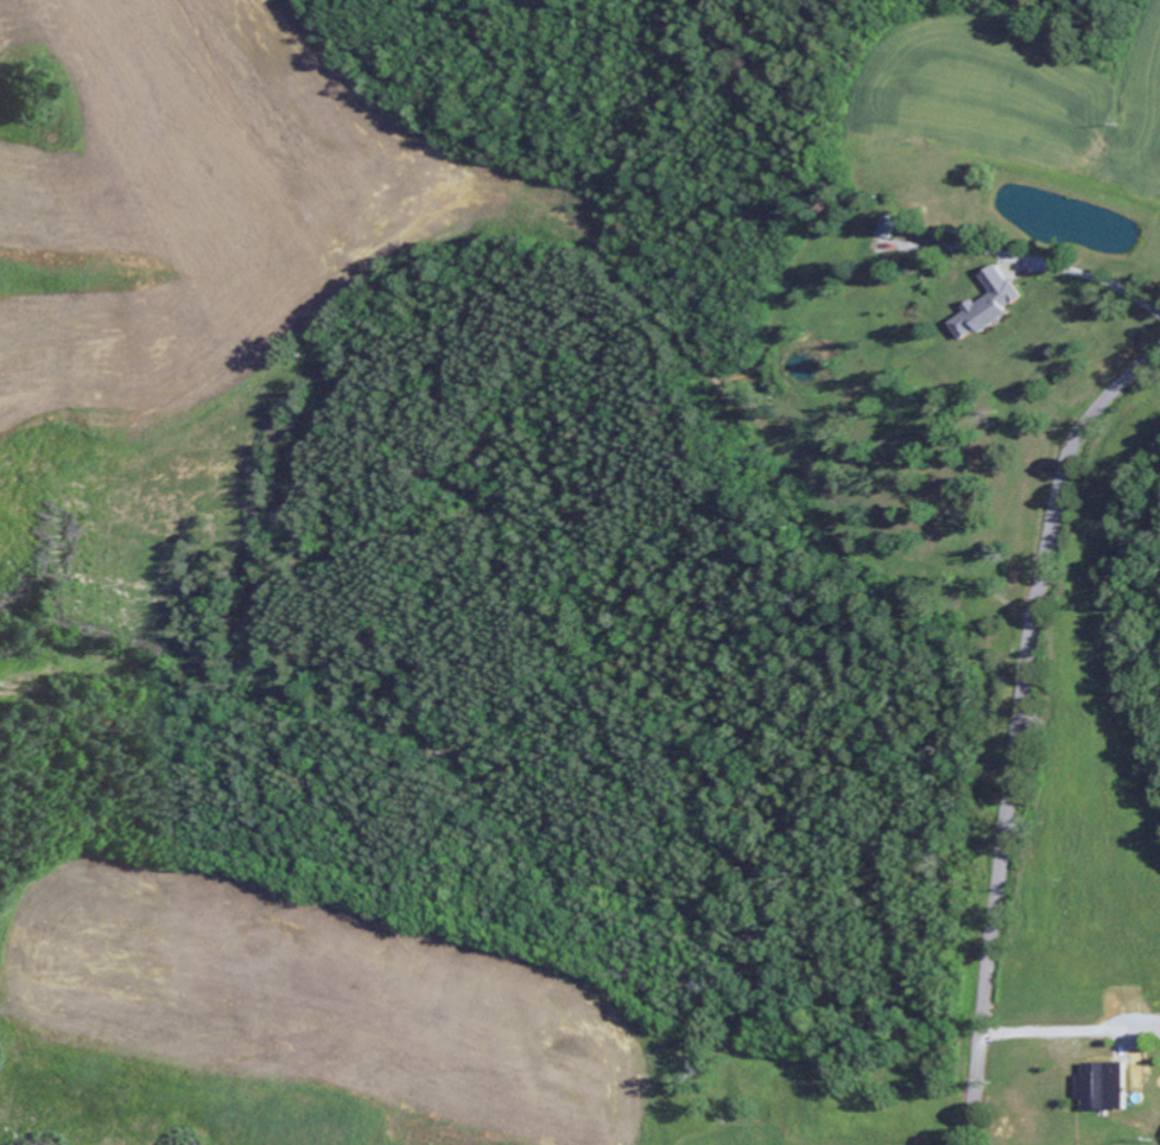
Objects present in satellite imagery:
building: (887, 228)
road: (1097, 279)
building: (989, 305)
road: (1018, 729)
building: (1102, 1086)

